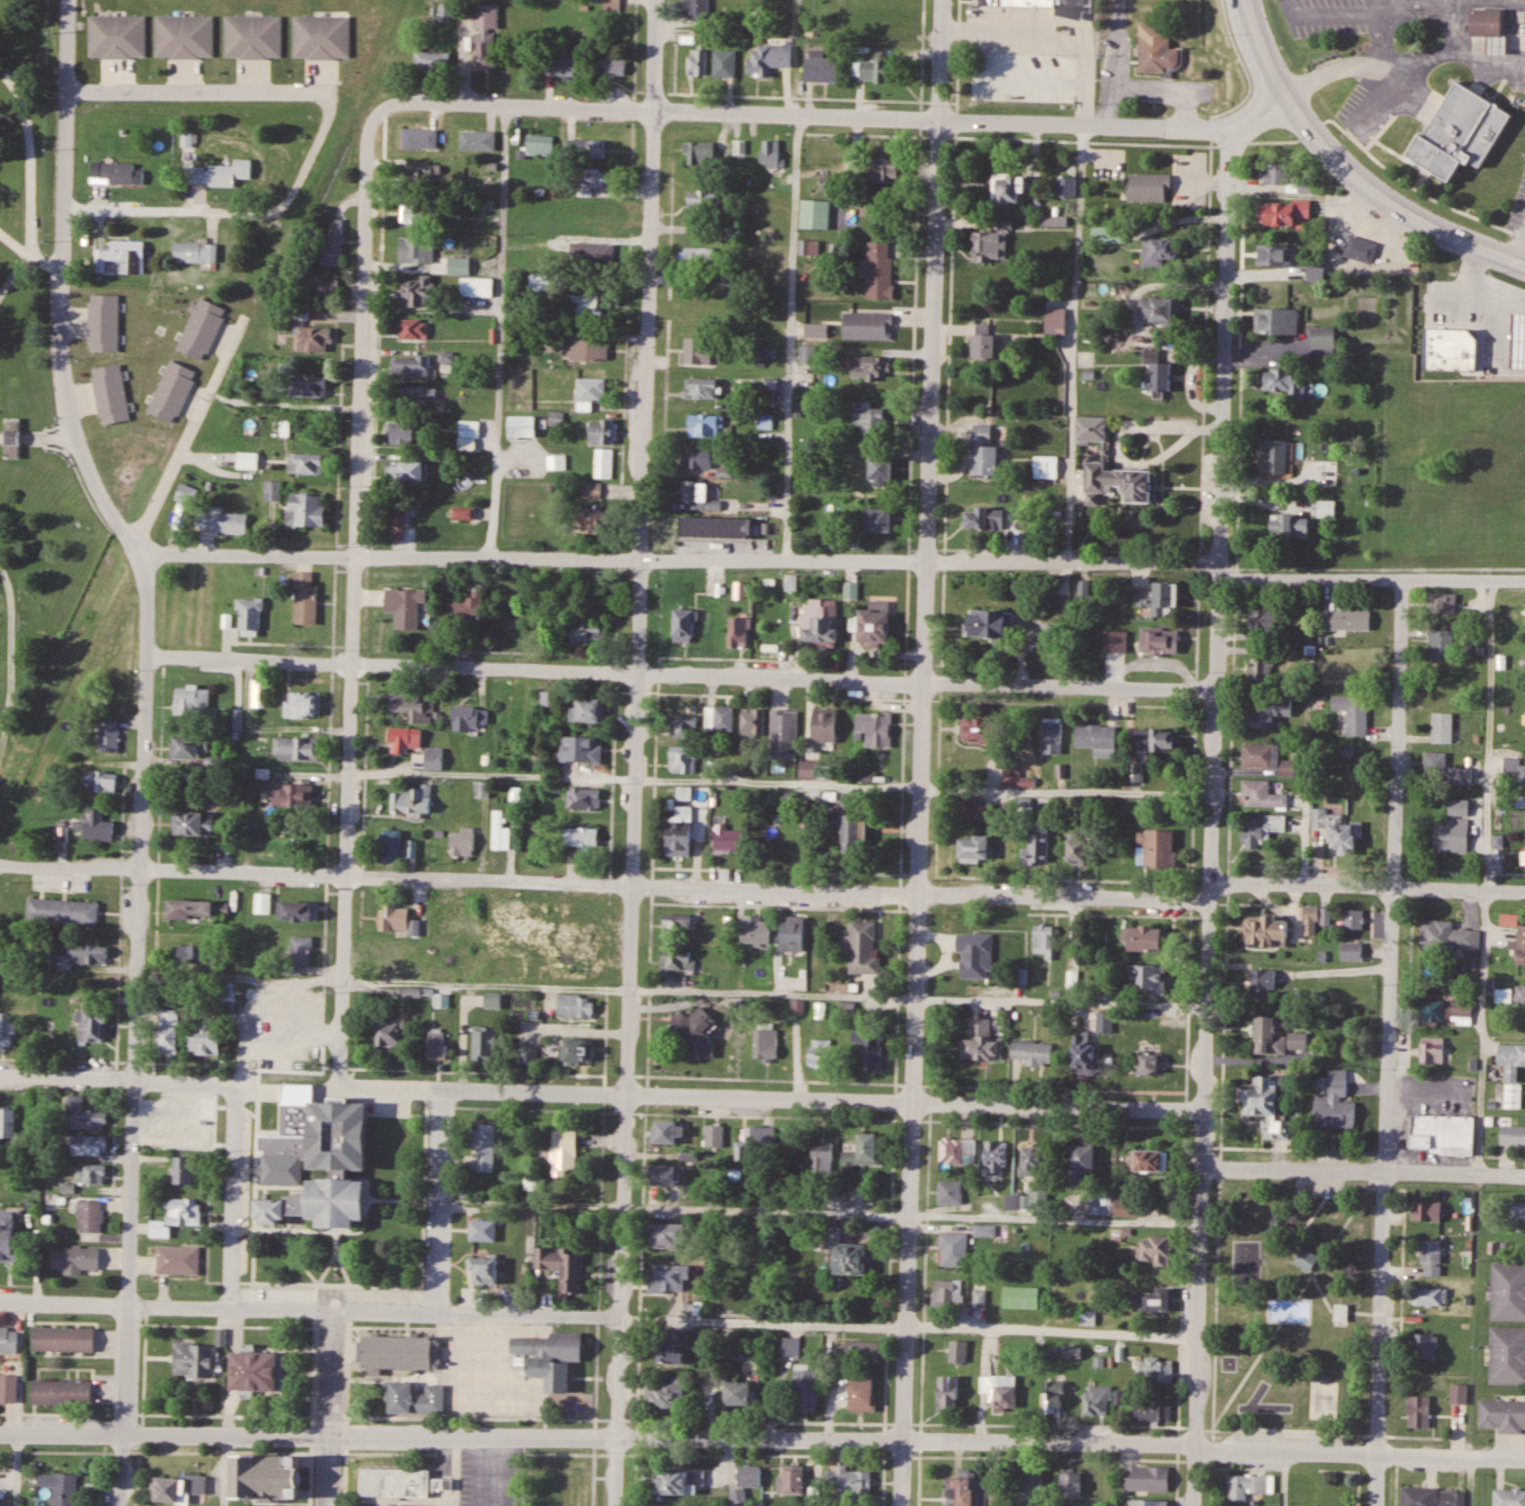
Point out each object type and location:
building: (1066, 0)
building: (608, 5)
building: (696, 9)
road: (582, 11)
building: (892, 19)
building: (1486, 23)
building: (484, 36)
building: (117, 37)
building: (184, 37)
building: (252, 37)
building: (320, 37)
building: (1156, 49)
building: (768, 59)
building: (696, 60)
building: (431, 62)
building: (723, 64)
building: (611, 65)
building: (560, 66)
building: (820, 70)
building: (874, 72)
road: (203, 85)
road: (887, 119)
park: (27, 123)
building: (1460, 133)
building: (515, 136)
building: (418, 137)
building: (188, 139)
building: (478, 140)
building: (538, 145)
building: (585, 148)
building: (699, 151)
building: (770, 154)
building: (884, 168)
road: (1347, 168)
building: (116, 172)
building: (220, 173)
building: (419, 173)
road: (31, 174)
building: (595, 177)
building: (1285, 177)
building: (828, 182)
building: (1066, 186)
building: (1007, 187)
building: (1148, 187)
building: (702, 199)
building: (1284, 211)
building: (412, 212)
road: (169, 213)
building: (814, 213)
building: (1108, 234)
building: (990, 243)
building: (332, 245)
building: (808, 247)
building: (1361, 248)
building: (415, 249)
building: (1158, 250)
building: (194, 251)
building: (590, 252)
building: (1272, 253)
building: (121, 256)
building: (698, 256)
road: (46, 261)
building: (457, 265)
road: (255, 270)
building: (878, 270)
building: (1315, 271)
road: (16, 274)
building: (538, 282)
building: (476, 286)
building: (321, 288)
building: (414, 290)
building: (1089, 297)
building: (583, 304)
building: (1162, 310)
building: (1276, 320)
building: (103, 322)
building: (867, 325)
building: (1444, 325)
building: (1054, 326)
building: (201, 328)
building: (412, 328)
building: (816, 330)
road: (495, 332)
building: (1323, 337)
building: (312, 338)
road: (793, 340)
building: (1119, 342)
building: (983, 344)
road: (1076, 344)
building: (591, 349)
building: (696, 351)
building: (807, 354)
building: (1524, 363)
building: (410, 366)
building: (869, 367)
building: (1157, 371)
building: (1284, 381)
building: (767, 384)
building: (307, 386)
building: (701, 387)
building: (172, 391)
building: (589, 391)
building: (109, 393)
building: (414, 396)
building: (867, 417)
building: (556, 418)
building: (703, 425)
building: (522, 426)
building: (468, 428)
building: (1091, 429)
building: (602, 430)
building: (399, 432)
building: (11, 438)
road: (54, 441)
road: (643, 443)
building: (984, 450)
building: (1273, 455)
building: (697, 457)
building: (246, 459)
building: (555, 461)
building: (305, 462)
building: (603, 462)
building: (885, 466)
building: (407, 471)
building: (1120, 482)
building: (272, 489)
building: (592, 489)
building: (698, 495)
building: (1325, 508)
building: (305, 509)
park: (35, 510)
building: (462, 513)
building: (398, 514)
building: (985, 517)
building: (879, 519)
building: (593, 520)
building: (223, 521)
building: (1288, 525)
building: (715, 526)
road: (236, 556)
road: (786, 563)
road: (1369, 583)
building: (304, 596)
building: (1158, 597)
building: (1441, 602)
building: (405, 606)
building: (466, 610)
building: (248, 615)
building: (1346, 619)
building: (1264, 620)
building: (874, 623)
building: (986, 623)
building: (683, 624)
building: (822, 627)
building: (587, 630)
building: (737, 631)
road: (12, 632)
building: (1051, 637)
building: (1159, 640)
building: (1441, 645)
road: (246, 665)
building: (1261, 669)
road: (350, 672)
road: (782, 680)
building: (257, 692)
building: (546, 699)
building: (191, 701)
building: (301, 704)
building: (413, 706)
building: (1268, 709)
building: (586, 710)
building: (1353, 712)
building: (469, 716)
building: (719, 718)
building: (1524, 719)
building: (752, 722)
building: (825, 724)
building: (1441, 727)
building: (684, 728)
building: (976, 729)
building: (875, 730)
building: (784, 732)
building: (1051, 733)
building: (108, 735)
building: (1096, 738)
building: (404, 739)
building: (1153, 739)
road: (140, 744)
building: (184, 747)
building: (296, 749)
building: (580, 750)
building: (1344, 751)
road: (923, 753)
building: (1265, 758)
building: (433, 759)
building: (682, 759)
building: (1435, 763)
building: (1134, 772)
building: (1514, 772)
building: (1015, 775)
building: (1462, 775)
building: (99, 781)
building: (552, 788)
building: (480, 789)
building: (292, 793)
building: (684, 793)
building: (515, 794)
building: (1261, 794)
building: (583, 798)
building: (411, 799)
building: (1104, 803)
building: (1025, 806)
building: (1459, 806)
building: (975, 810)
road: (1209, 817)
building: (192, 823)
building: (851, 824)
building: (95, 825)
building: (1260, 828)
building: (1337, 830)
building: (499, 832)
building: (679, 832)
building: (1452, 834)
building: (581, 836)
building: (727, 838)
building: (462, 842)
building: (390, 845)
building: (1036, 845)
building: (1158, 846)
building: (973, 848)
building: (1075, 850)
road: (172, 871)
road: (1366, 888)
road: (777, 890)
building: (262, 902)
building: (189, 908)
building: (224, 908)
building: (297, 910)
building: (62, 911)
building: (451, 913)
building: (1325, 915)
building: (392, 917)
building: (1353, 918)
building: (1311, 920)
building: (1509, 920)
building: (578, 921)
building: (677, 924)
building: (414, 927)
building: (755, 930)
building: (1265, 930)
building: (792, 933)
building: (1447, 935)
building: (1145, 938)
building: (1043, 940)
building: (1519, 946)
building: (862, 948)
building: (1352, 951)
building: (299, 953)
building: (386, 954)
building: (80, 955)
building: (199, 957)
building: (581, 959)
building: (678, 959)
building: (1146, 980)
building: (1261, 984)
building: (227, 991)
building: (413, 992)
building: (1520, 995)
building: (444, 998)
building: (492, 1000)
building: (574, 1006)
building: (1447, 1010)
building: (287, 1022)
building: (1104, 1022)
building: (91, 1025)
building: (6, 1030)
building: (168, 1031)
building: (388, 1031)
building: (696, 1033)
building: (204, 1037)
building: (1276, 1038)
building: (980, 1042)
building: (484, 1043)
building: (436, 1044)
building: (764, 1044)
road: (1391, 1044)
building: (868, 1048)
building: (1432, 1049)
building: (575, 1052)
building: (1032, 1052)
building: (818, 1053)
building: (1083, 1053)
building: (526, 1054)
building: (1147, 1063)
building: (1512, 1072)
road: (170, 1084)
road: (627, 1096)
building: (1334, 1103)
building: (1267, 1105)
road: (1059, 1108)
building: (82, 1114)
building: (7, 1123)
building: (664, 1131)
building: (1444, 1133)
building: (713, 1135)
building: (1512, 1135)
building: (755, 1144)
building: (87, 1145)
building: (484, 1147)
building: (862, 1150)
building: (957, 1150)
building: (563, 1152)
building: (821, 1157)
building: (995, 1157)
building: (1081, 1159)
building: (1033, 1160)
building: (1149, 1160)
building: (280, 1168)
road: (1363, 1169)
building: (182, 1170)
building: (89, 1174)
building: (662, 1175)
building: (532, 1180)
building: (949, 1191)
building: (1038, 1192)
road: (622, 1196)
road: (233, 1198)
road: (441, 1201)
building: (335, 1202)
building: (1099, 1206)
building: (1126, 1207)
building: (270, 1210)
building: (1517, 1210)
building: (1426, 1211)
road: (1376, 1212)
building: (176, 1216)
building: (90, 1217)
building: (482, 1230)
building: (984, 1230)
road: (1216, 1234)
building: (667, 1236)
building: (8, 1238)
building: (953, 1249)
building: (1156, 1250)
building: (1430, 1251)
road: (1297, 1252)
building: (1311, 1252)
building: (848, 1257)
building: (74, 1259)
building: (177, 1260)
building: (1344, 1266)
building: (564, 1268)
building: (483, 1271)
building: (667, 1279)
building: (1509, 1290)
building: (947, 1293)
park: (1290, 1296)
building: (1429, 1296)
building: (1020, 1298)
building: (979, 1299)
building: (1156, 1300)
road: (1260, 1305)
road: (165, 1308)
building: (1340, 1313)
road: (763, 1321)
building: (8, 1339)
building: (62, 1339)
building: (1424, 1346)
building: (672, 1347)
building: (788, 1347)
building: (395, 1352)
building: (861, 1352)
building: (958, 1352)
building: (1071, 1352)
building: (1507, 1354)
building: (550, 1358)
building: (194, 1360)
building: (1155, 1370)
building: (253, 1372)
building: (8, 1374)
building: (805, 1389)
building: (1001, 1391)
building: (60, 1393)
building: (666, 1394)
building: (737, 1394)
building: (861, 1394)
building: (948, 1394)
building: (1459, 1394)
building: (1053, 1397)
building: (415, 1399)
building: (1097, 1400)
road: (328, 1408)
building: (1153, 1410)
building: (1419, 1412)
building: (1503, 1413)
road: (163, 1436)
road: (926, 1443)
building: (263, 1479)
building: (1147, 1479)
building: (791, 1480)
building: (746, 1481)
building: (673, 1482)
building: (847, 1482)
building: (400, 1483)
building: (1071, 1483)
building: (1246, 1486)
building: (1031, 1487)
building: (59, 1488)
building: (174, 1488)
building: (966, 1492)
building: (1419, 1496)
building: (1509, 1497)
building: (1453, 1498)
building: (1149, 1503)

